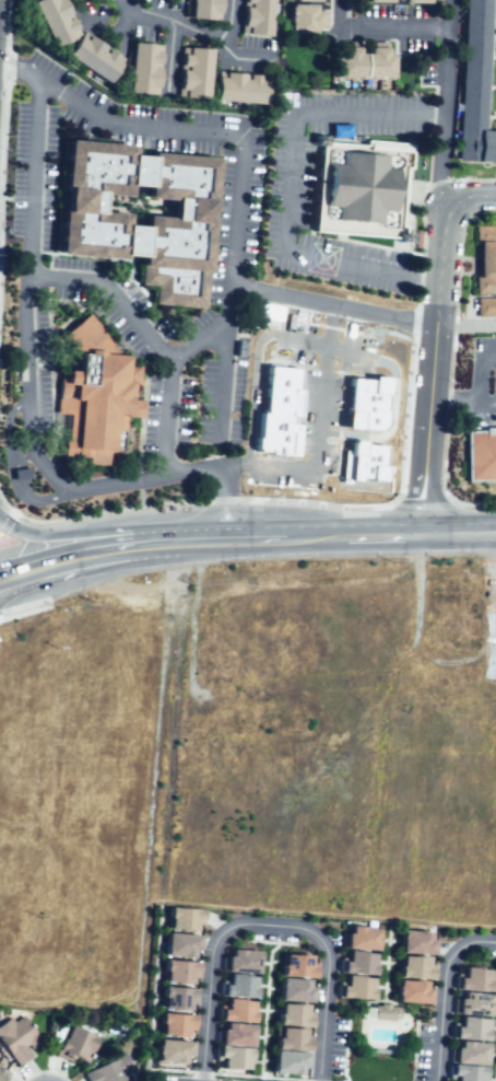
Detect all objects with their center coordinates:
building: (305, 1)
building: (377, 1)
building: (414, 1)
building: (201, 10)
road: (338, 11)
building: (476, 16)
building: (253, 20)
building: (51, 21)
building: (302, 21)
road: (392, 24)
parking lot: (193, 32)
parking lot: (405, 35)
road: (200, 38)
road: (250, 53)
building: (92, 59)
road: (19, 65)
building: (345, 65)
building: (375, 65)
building: (139, 70)
building: (191, 75)
building: (235, 90)
road: (4, 97)
road: (445, 101)
building: (474, 103)
road: (133, 120)
road: (370, 126)
road: (292, 186)
building: (361, 187)
parking lot: (353, 193)
road: (4, 197)
road: (35, 197)
road: (236, 210)
building: (93, 220)
building: (353, 258)
building: (485, 258)
road: (362, 268)
road: (72, 279)
road: (332, 306)
building: (485, 306)
road: (416, 318)
parking lot: (180, 319)
road: (465, 325)
road: (211, 333)
road: (434, 339)
road: (326, 340)
road: (26, 352)
road: (476, 368)
parking lot: (476, 371)
road: (221, 384)
building: (282, 390)
road: (252, 391)
building: (365, 392)
building: (87, 395)
road: (464, 399)
building: (364, 416)
road: (390, 423)
building: (275, 433)
road: (318, 437)
building: (481, 456)
building: (363, 462)
road: (14, 467)
road: (191, 472)
road: (76, 489)
road: (286, 501)
road: (422, 503)
road: (475, 505)
road: (4, 508)
road: (222, 508)
road: (5, 521)
road: (459, 532)
road: (382, 534)
road: (54, 536)
road: (314, 536)
road: (252, 539)
road: (199, 542)
road: (156, 546)
road: (122, 550)
road: (54, 566)
road: (23, 606)
building: (178, 919)
road: (267, 928)
building: (357, 939)
building: (413, 942)
building: (176, 945)
building: (237, 962)
building: (356, 963)
building: (293, 966)
building: (410, 968)
building: (176, 973)
building: (471, 980)
building: (236, 987)
building: (354, 988)
road: (437, 989)
building: (293, 990)
building: (410, 993)
building: (173, 999)
building: (470, 1004)
building: (234, 1011)
building: (385, 1012)
building: (288, 1015)
building: (170, 1026)
building: (467, 1030)
building: (232, 1036)
building: (287, 1039)
building: (15, 1041)
building: (72, 1045)
building: (169, 1054)
building: (465, 1055)
building: (229, 1059)
building: (285, 1063)
building: (108, 1072)
building: (462, 1074)
building: (2, 1078)

